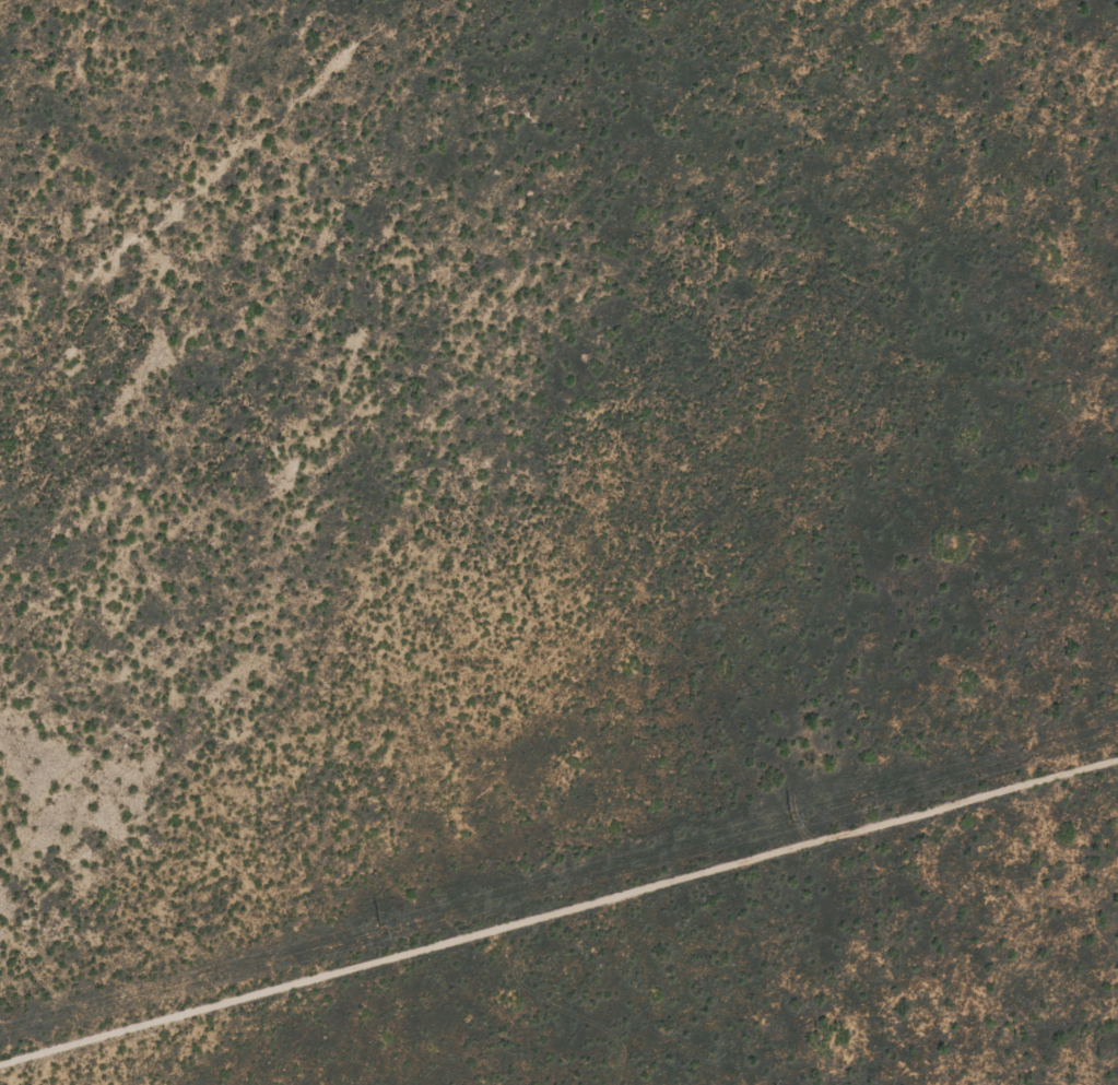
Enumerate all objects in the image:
power tower: (788, 816)
power tower: (377, 930)

